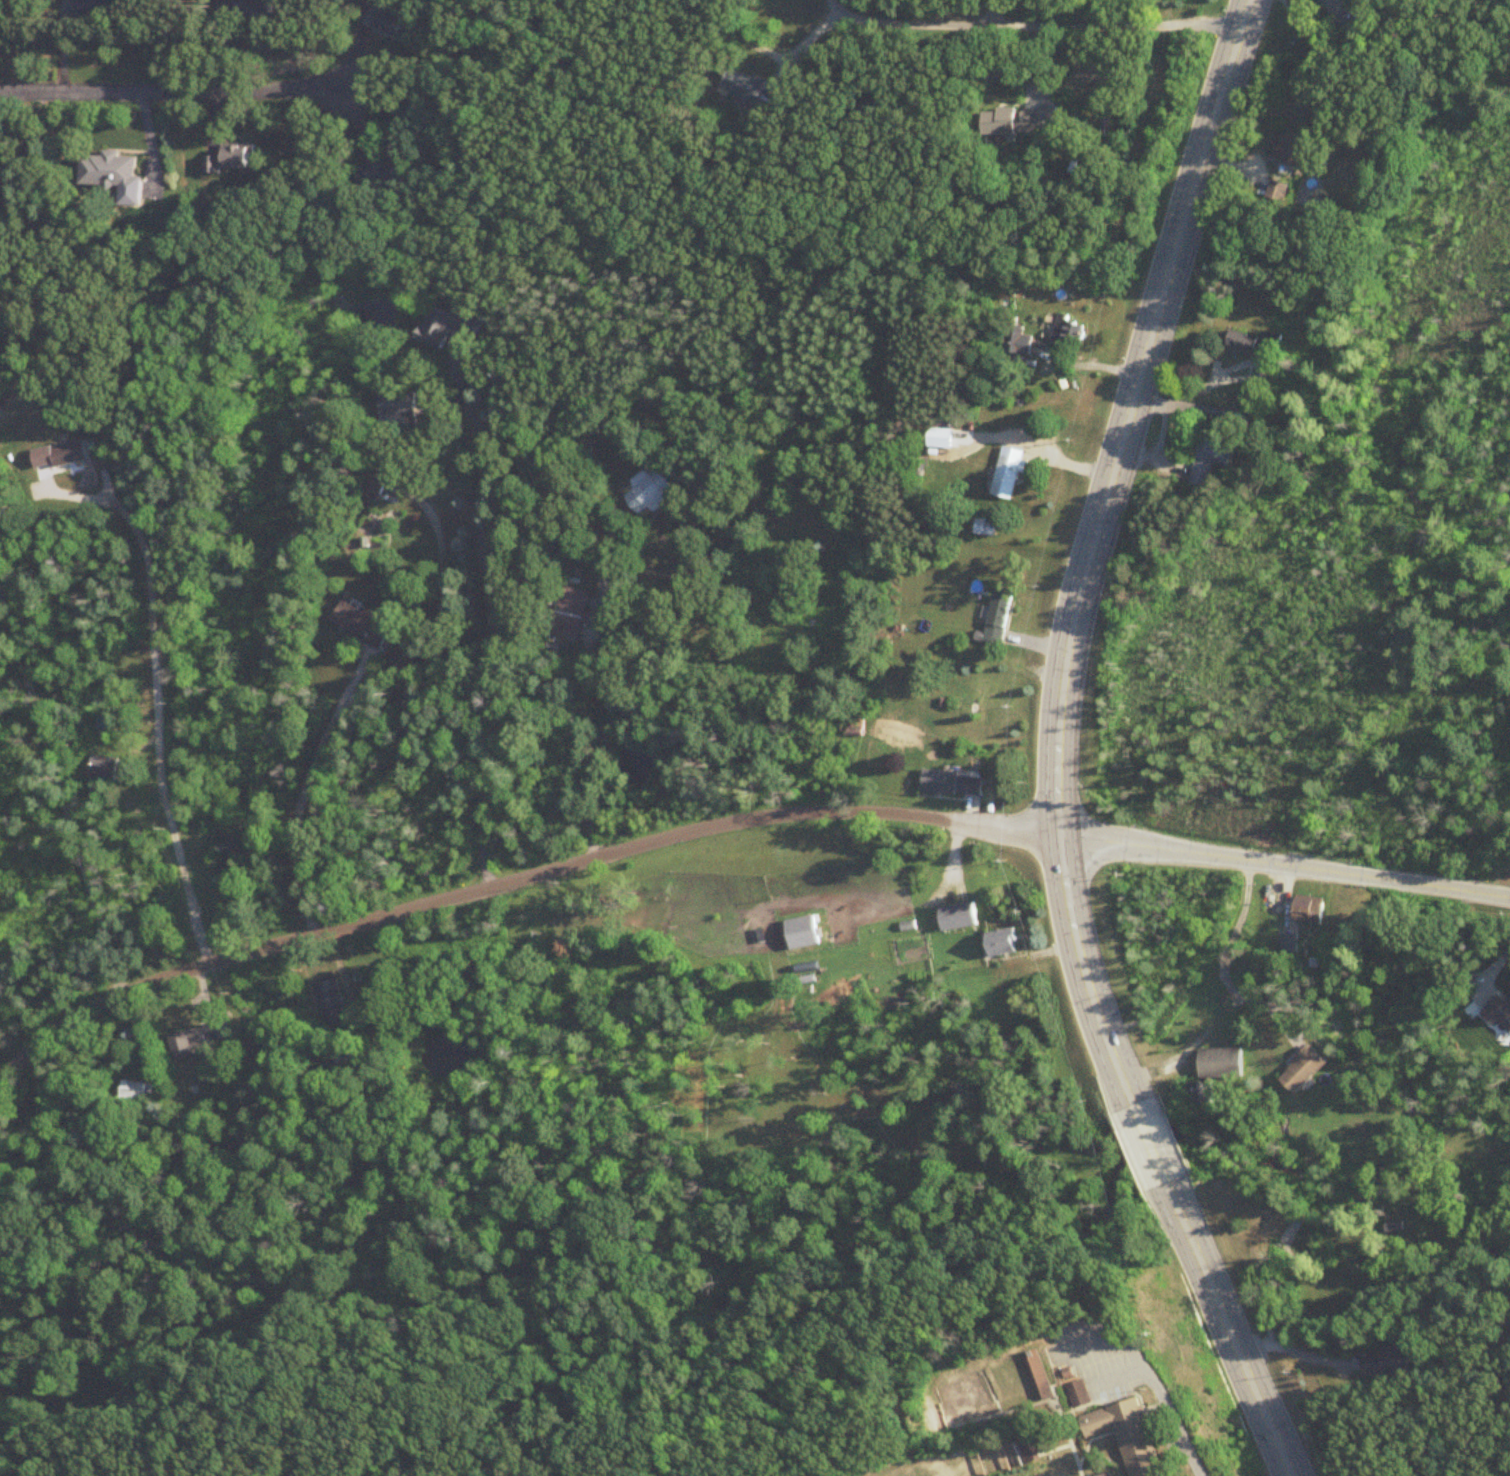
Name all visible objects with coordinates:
building: (1386, 3)
road: (1338, 4)
building: (99, 5)
road: (1352, 7)
building: (256, 9)
road: (990, 12)
building: (385, 22)
road: (943, 22)
building: (743, 87)
road: (176, 93)
building: (1020, 121)
building: (1290, 150)
building: (231, 159)
building: (112, 175)
building: (379, 175)
building: (1278, 192)
building: (446, 328)
building: (1067, 332)
building: (1016, 341)
building: (1246, 343)
building: (397, 405)
building: (941, 443)
road: (1036, 450)
building: (1209, 457)
building: (1006, 473)
building: (374, 484)
building: (649, 491)
road: (426, 593)
building: (571, 613)
building: (997, 616)
building: (363, 624)
road: (486, 633)
road: (610, 713)
road: (157, 727)
road: (1062, 748)
building: (104, 769)
building: (951, 784)
road: (61, 791)
road: (302, 794)
road: (1229, 859)
road: (458, 897)
building: (189, 905)
building: (1309, 910)
building: (215, 914)
building: (957, 916)
building: (802, 933)
building: (1001, 943)
building: (1289, 943)
road: (1220, 955)
road: (1488, 968)
building: (331, 1003)
building: (1500, 1012)
building: (201, 1037)
building: (1221, 1064)
building: (345, 1065)
building: (1304, 1071)
building: (136, 1091)
building: (1200, 1095)
road: (1077, 1344)
road: (1299, 1349)
building: (1384, 1364)
building: (1077, 1395)
road: (1183, 1432)
building: (1127, 1436)
building: (1028, 1450)
road: (911, 1462)
building: (1109, 1475)

